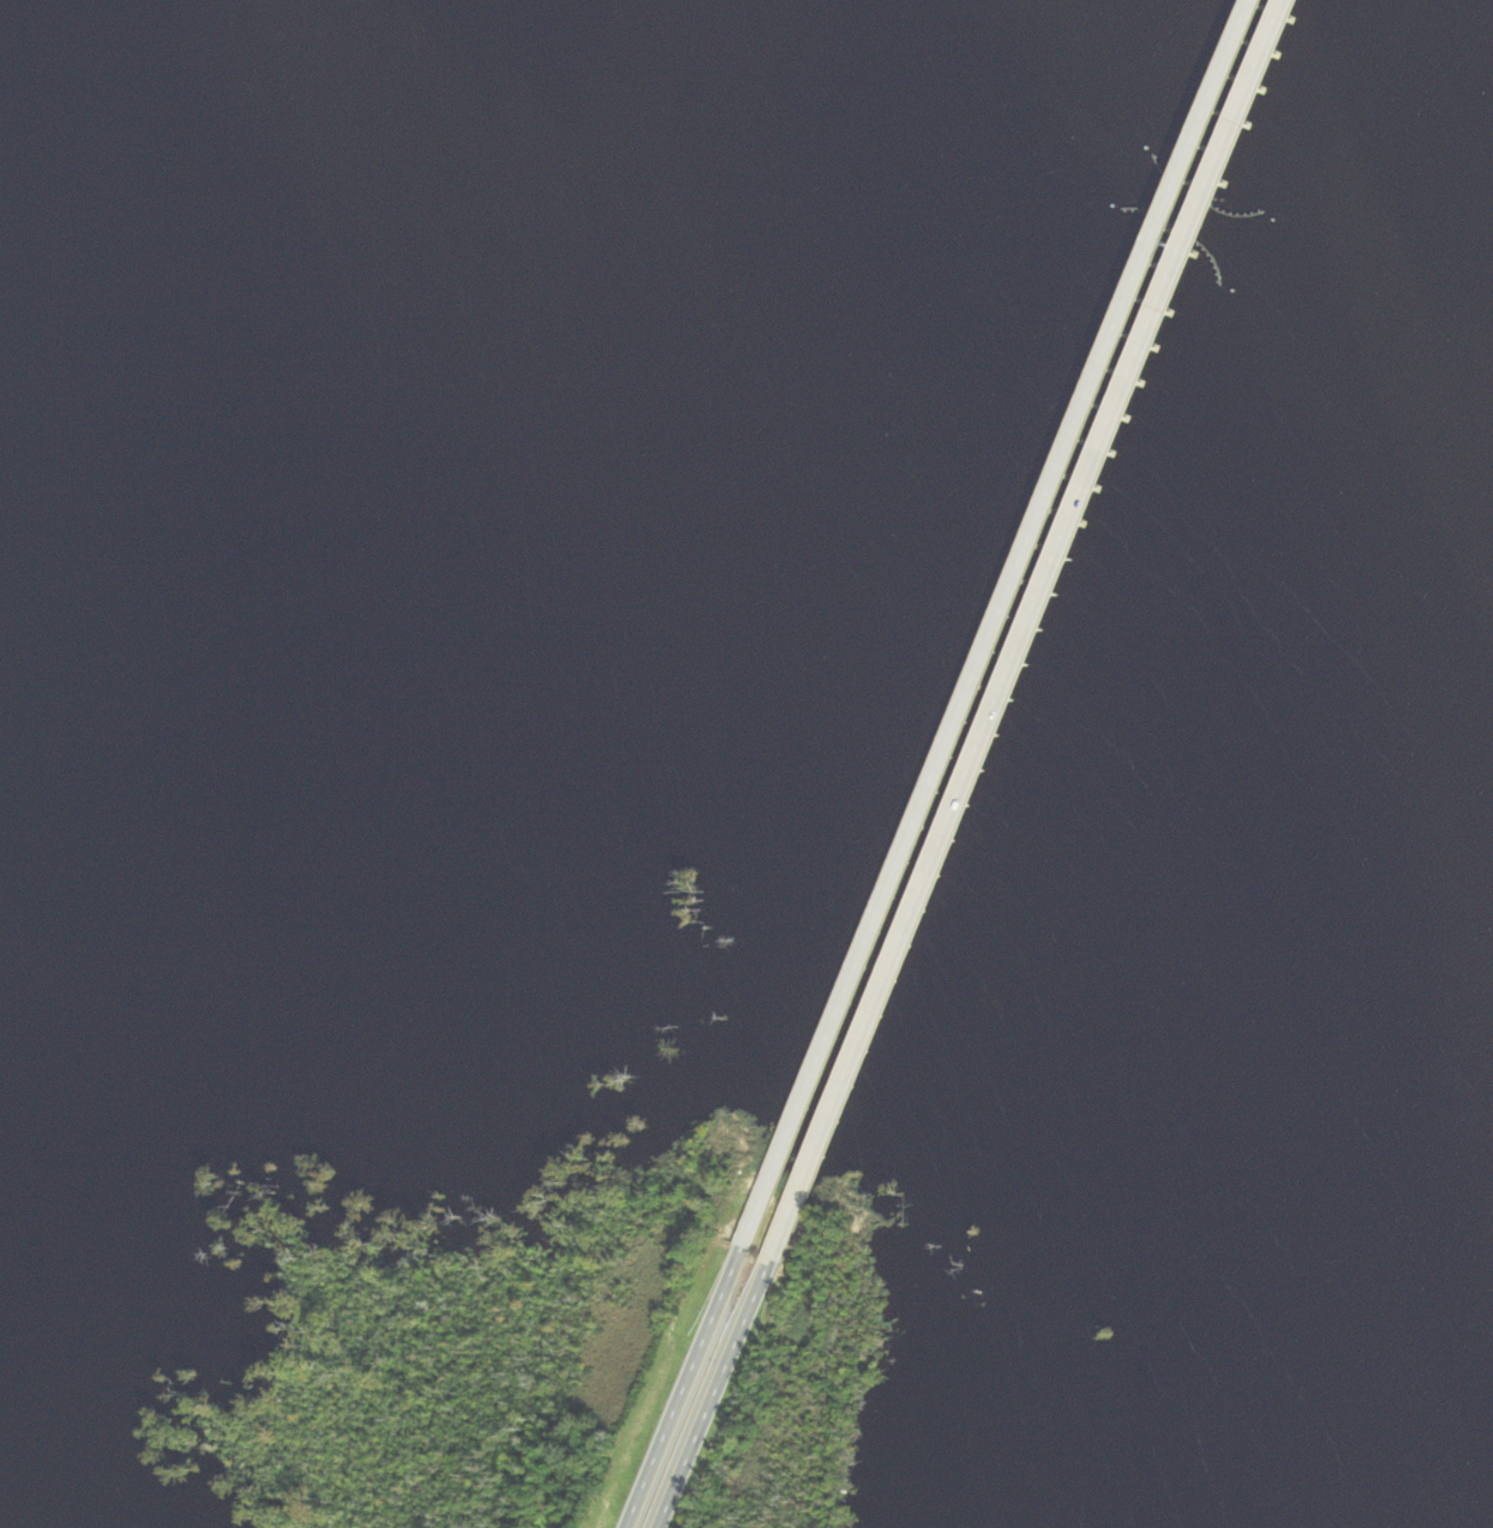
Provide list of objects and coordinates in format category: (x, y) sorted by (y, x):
road: (1218, 90)
river: (530, 97)
road: (1247, 100)
road: (1174, 199)
road: (1199, 217)
river: (1018, 339)
road: (954, 738)
road: (978, 754)
road: (685, 1392)
road: (711, 1401)

